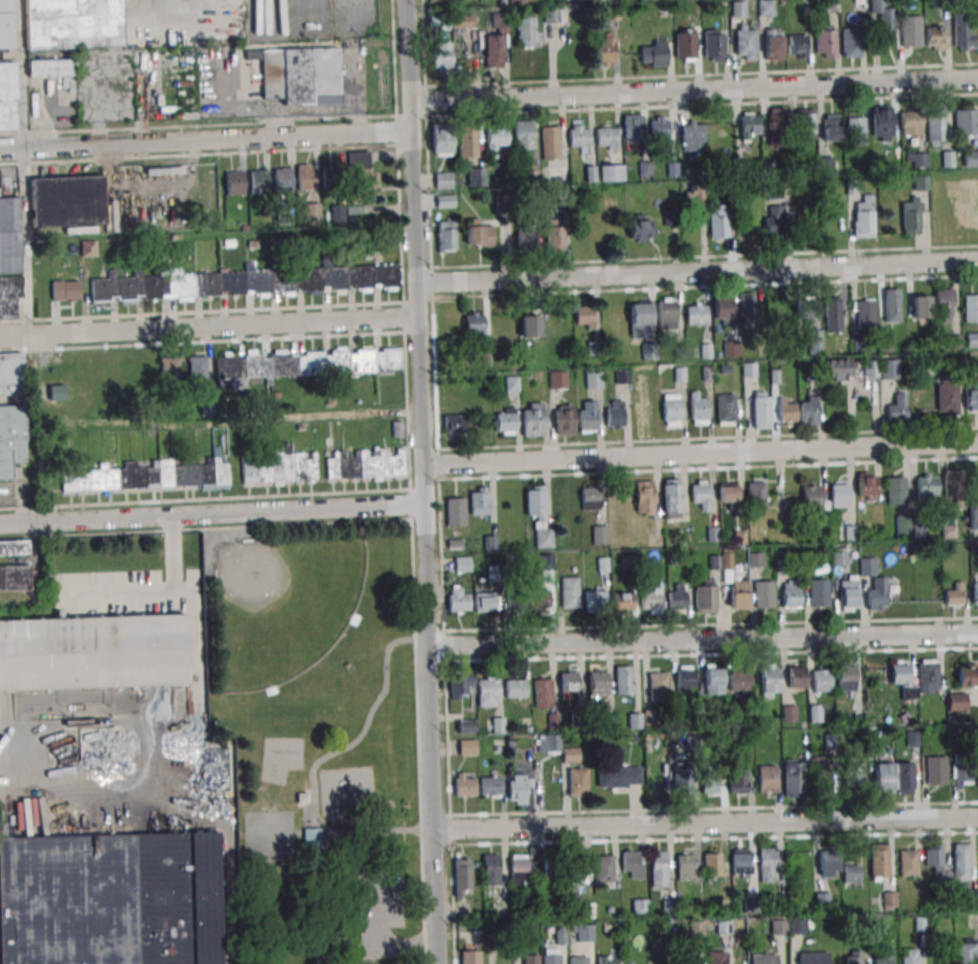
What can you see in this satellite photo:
building: (435, 0)
building: (574, 0)
building: (517, 1)
building: (830, 6)
building: (738, 8)
building: (765, 8)
building: (611, 13)
building: (554, 15)
building: (884, 17)
building: (438, 22)
building: (461, 22)
building: (72, 23)
building: (911, 31)
building: (963, 31)
building: (528, 32)
building: (935, 37)
building: (825, 41)
building: (495, 42)
building: (851, 43)
building: (714, 45)
building: (746, 46)
building: (773, 46)
building: (797, 46)
building: (685, 48)
building: (605, 51)
building: (654, 54)
building: (441, 55)
building: (51, 68)
building: (6, 69)
building: (298, 74)
road: (357, 89)
road: (694, 90)
building: (805, 122)
building: (966, 122)
building: (881, 123)
building: (911, 123)
building: (749, 125)
building: (832, 126)
building: (777, 127)
building: (935, 128)
building: (634, 130)
building: (660, 130)
building: (856, 131)
building: (580, 135)
building: (523, 136)
building: (693, 137)
building: (607, 138)
building: (441, 139)
road: (205, 140)
building: (494, 140)
building: (467, 142)
building: (550, 143)
building: (970, 158)
building: (916, 160)
road: (23, 167)
building: (612, 173)
building: (361, 174)
building: (305, 177)
building: (475, 177)
building: (282, 178)
building: (331, 178)
building: (443, 180)
building: (259, 181)
building: (234, 182)
building: (920, 182)
building: (696, 196)
building: (445, 201)
building: (65, 203)
building: (312, 211)
building: (337, 213)
building: (911, 215)
building: (864, 217)
building: (719, 221)
building: (774, 221)
building: (639, 228)
building: (478, 234)
building: (447, 236)
building: (88, 248)
building: (9, 260)
road: (697, 273)
building: (246, 282)
building: (65, 290)
building: (944, 303)
building: (891, 305)
building: (746, 307)
building: (919, 307)
building: (722, 308)
building: (805, 308)
building: (970, 309)
building: (696, 314)
building: (832, 314)
building: (667, 315)
building: (865, 315)
building: (584, 317)
building: (640, 319)
building: (474, 324)
road: (208, 326)
building: (529, 326)
building: (972, 339)
building: (816, 341)
building: (305, 363)
building: (870, 368)
building: (170, 369)
building: (840, 369)
building: (889, 369)
building: (197, 372)
building: (558, 380)
building: (594, 380)
building: (512, 384)
building: (56, 392)
building: (947, 400)
building: (971, 400)
building: (205, 405)
building: (726, 408)
building: (897, 408)
building: (698, 409)
building: (671, 410)
building: (760, 410)
building: (809, 410)
building: (787, 411)
building: (11, 413)
building: (614, 414)
building: (587, 416)
building: (532, 420)
building: (564, 420)
building: (506, 421)
building: (453, 424)
road: (701, 453)
building: (366, 464)
building: (278, 466)
building: (151, 474)
road: (424, 481)
building: (953, 485)
building: (866, 486)
building: (926, 486)
building: (896, 492)
building: (727, 493)
building: (700, 494)
building: (756, 495)
building: (839, 495)
building: (644, 497)
building: (590, 498)
building: (671, 498)
building: (815, 498)
building: (479, 501)
building: (455, 511)
road: (213, 514)
building: (538, 515)
building: (973, 515)
building: (599, 534)
building: (490, 542)
building: (13, 547)
building: (839, 556)
building: (756, 559)
building: (463, 564)
building: (867, 566)
building: (13, 577)
building: (790, 593)
building: (818, 593)
building: (848, 593)
building: (877, 593)
building: (975, 593)
building: (569, 594)
building: (763, 595)
building: (953, 596)
building: (652, 597)
building: (676, 597)
building: (738, 597)
building: (459, 599)
building: (528, 599)
building: (595, 600)
building: (707, 600)
building: (486, 601)
building: (623, 602)
road: (703, 640)
building: (93, 652)
building: (967, 675)
building: (927, 676)
building: (796, 677)
building: (846, 678)
building: (684, 679)
building: (624, 680)
building: (739, 680)
building: (822, 680)
building: (903, 680)
building: (569, 681)
building: (769, 681)
building: (713, 682)
building: (598, 683)
building: (461, 686)
building: (657, 687)
building: (515, 688)
building: (488, 691)
building: (542, 694)
building: (789, 713)
building: (816, 713)
building: (975, 714)
building: (635, 720)
building: (498, 725)
building: (466, 726)
park: (317, 742)
building: (548, 743)
building: (467, 747)
building: (570, 755)
building: (221, 768)
building: (963, 769)
building: (854, 771)
building: (936, 771)
building: (822, 775)
building: (619, 777)
building: (793, 777)
building: (883, 778)
building: (904, 778)
building: (767, 779)
building: (682, 781)
building: (709, 781)
building: (738, 781)
building: (578, 782)
building: (465, 784)
building: (491, 786)
building: (520, 786)
road: (704, 822)
building: (311, 838)
building: (768, 861)
building: (879, 861)
building: (741, 862)
building: (936, 862)
building: (961, 862)
building: (829, 863)
building: (632, 864)
building: (907, 864)
building: (712, 865)
building: (685, 866)
building: (552, 867)
building: (491, 869)
building: (578, 869)
building: (603, 869)
building: (659, 869)
building: (518, 872)
building: (462, 877)
building: (109, 899)
building: (822, 900)
building: (669, 906)
building: (640, 907)
building: (796, 926)
building: (779, 927)
building: (584, 933)
building: (966, 952)
building: (551, 956)
building: (884, 956)
building: (910, 956)
building: (469, 957)
building: (853, 957)
building: (690, 958)
building: (717, 958)
building: (813, 958)
building: (531, 959)
building: (763, 959)
building: (578, 960)
building: (607, 960)

